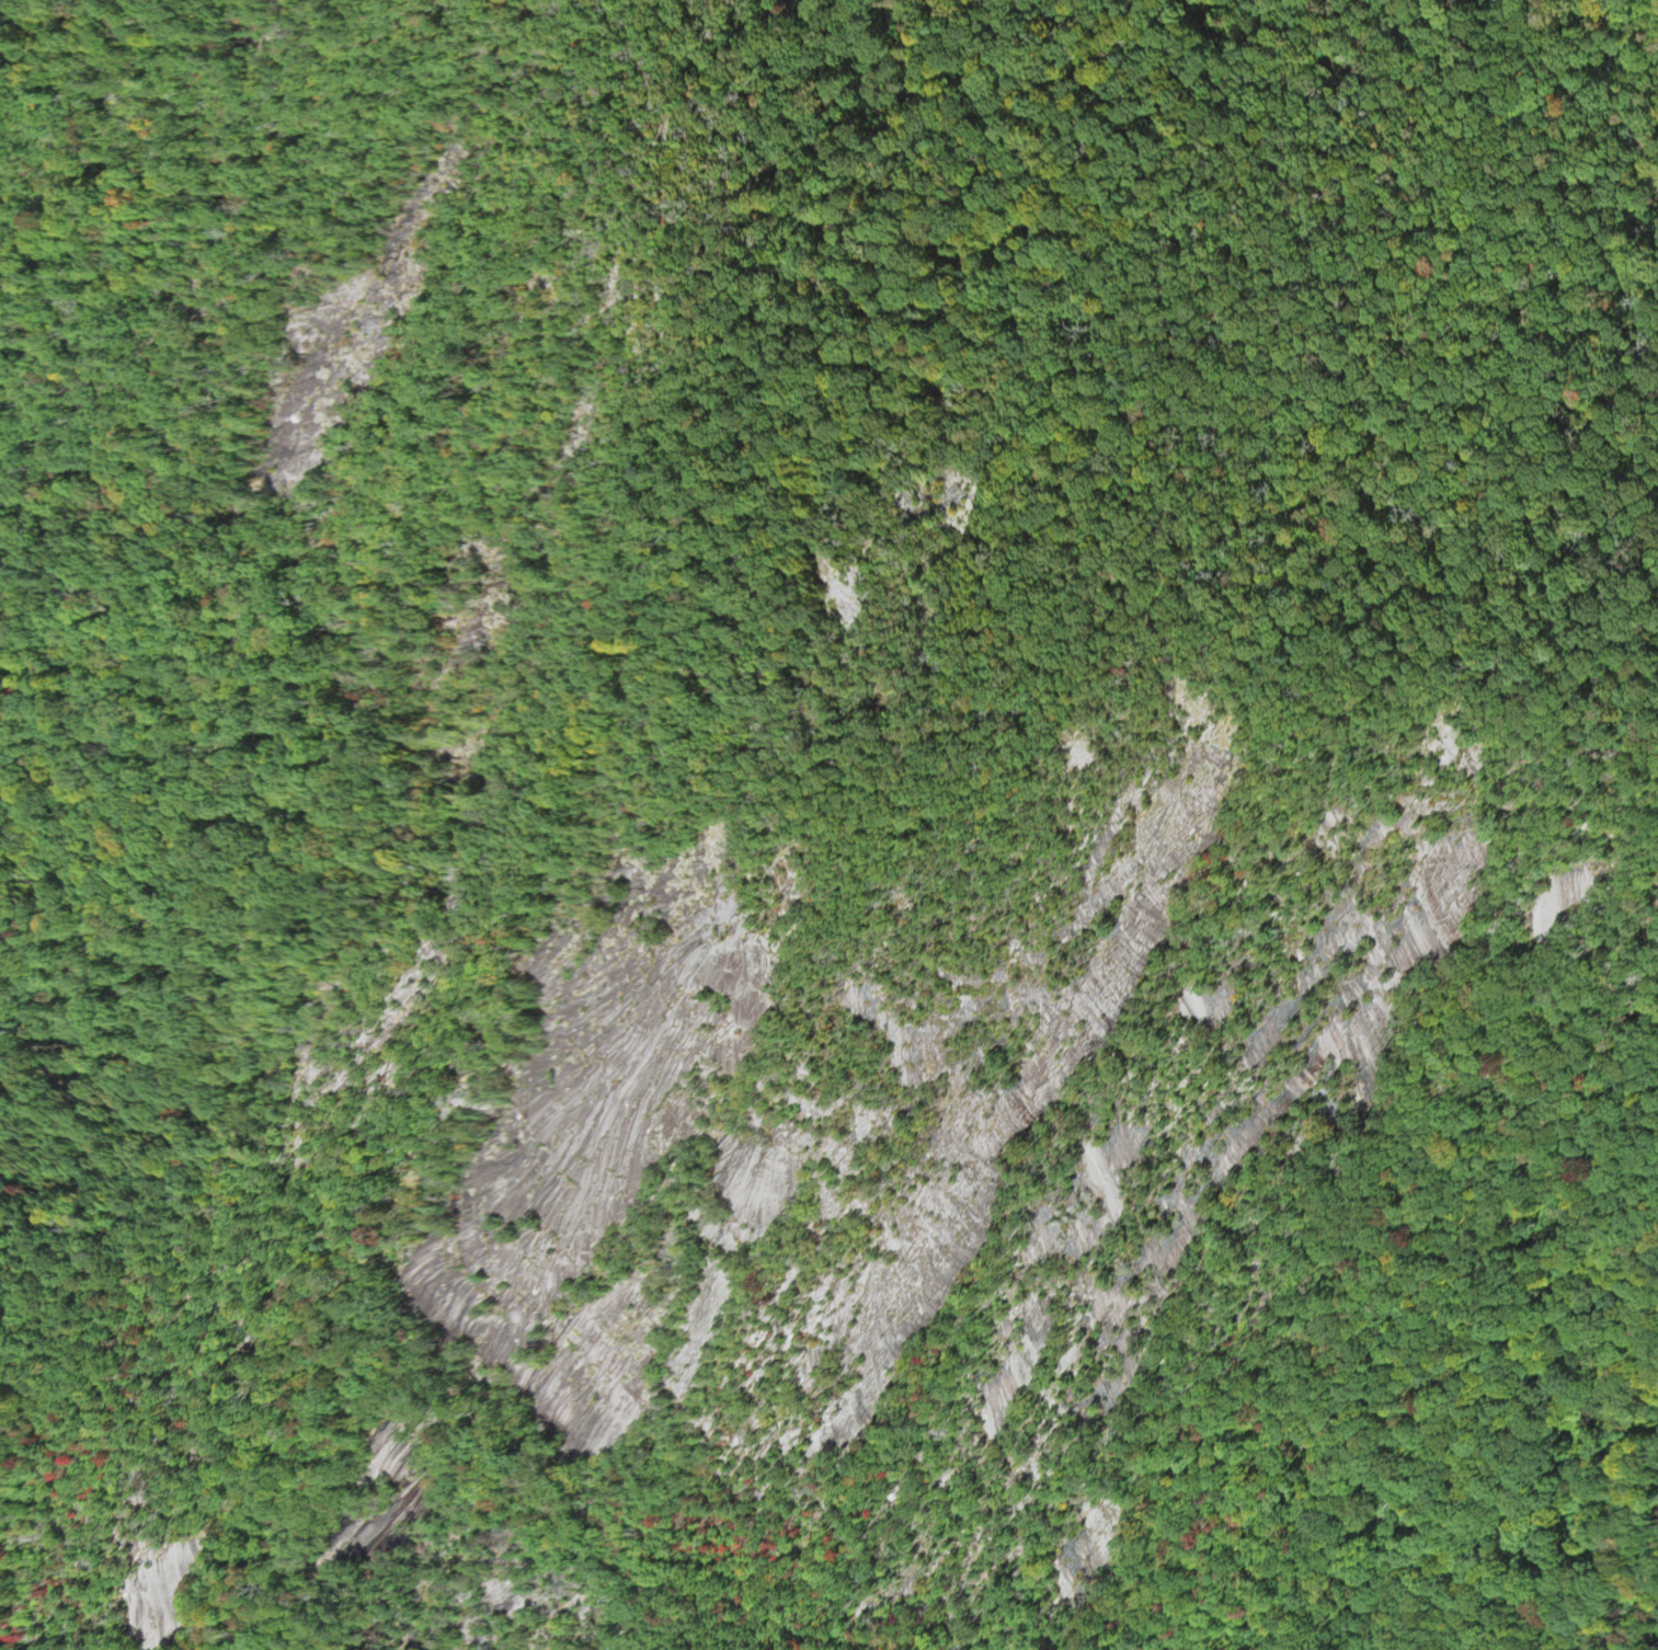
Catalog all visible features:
road: (1490, 163)
road: (764, 335)

